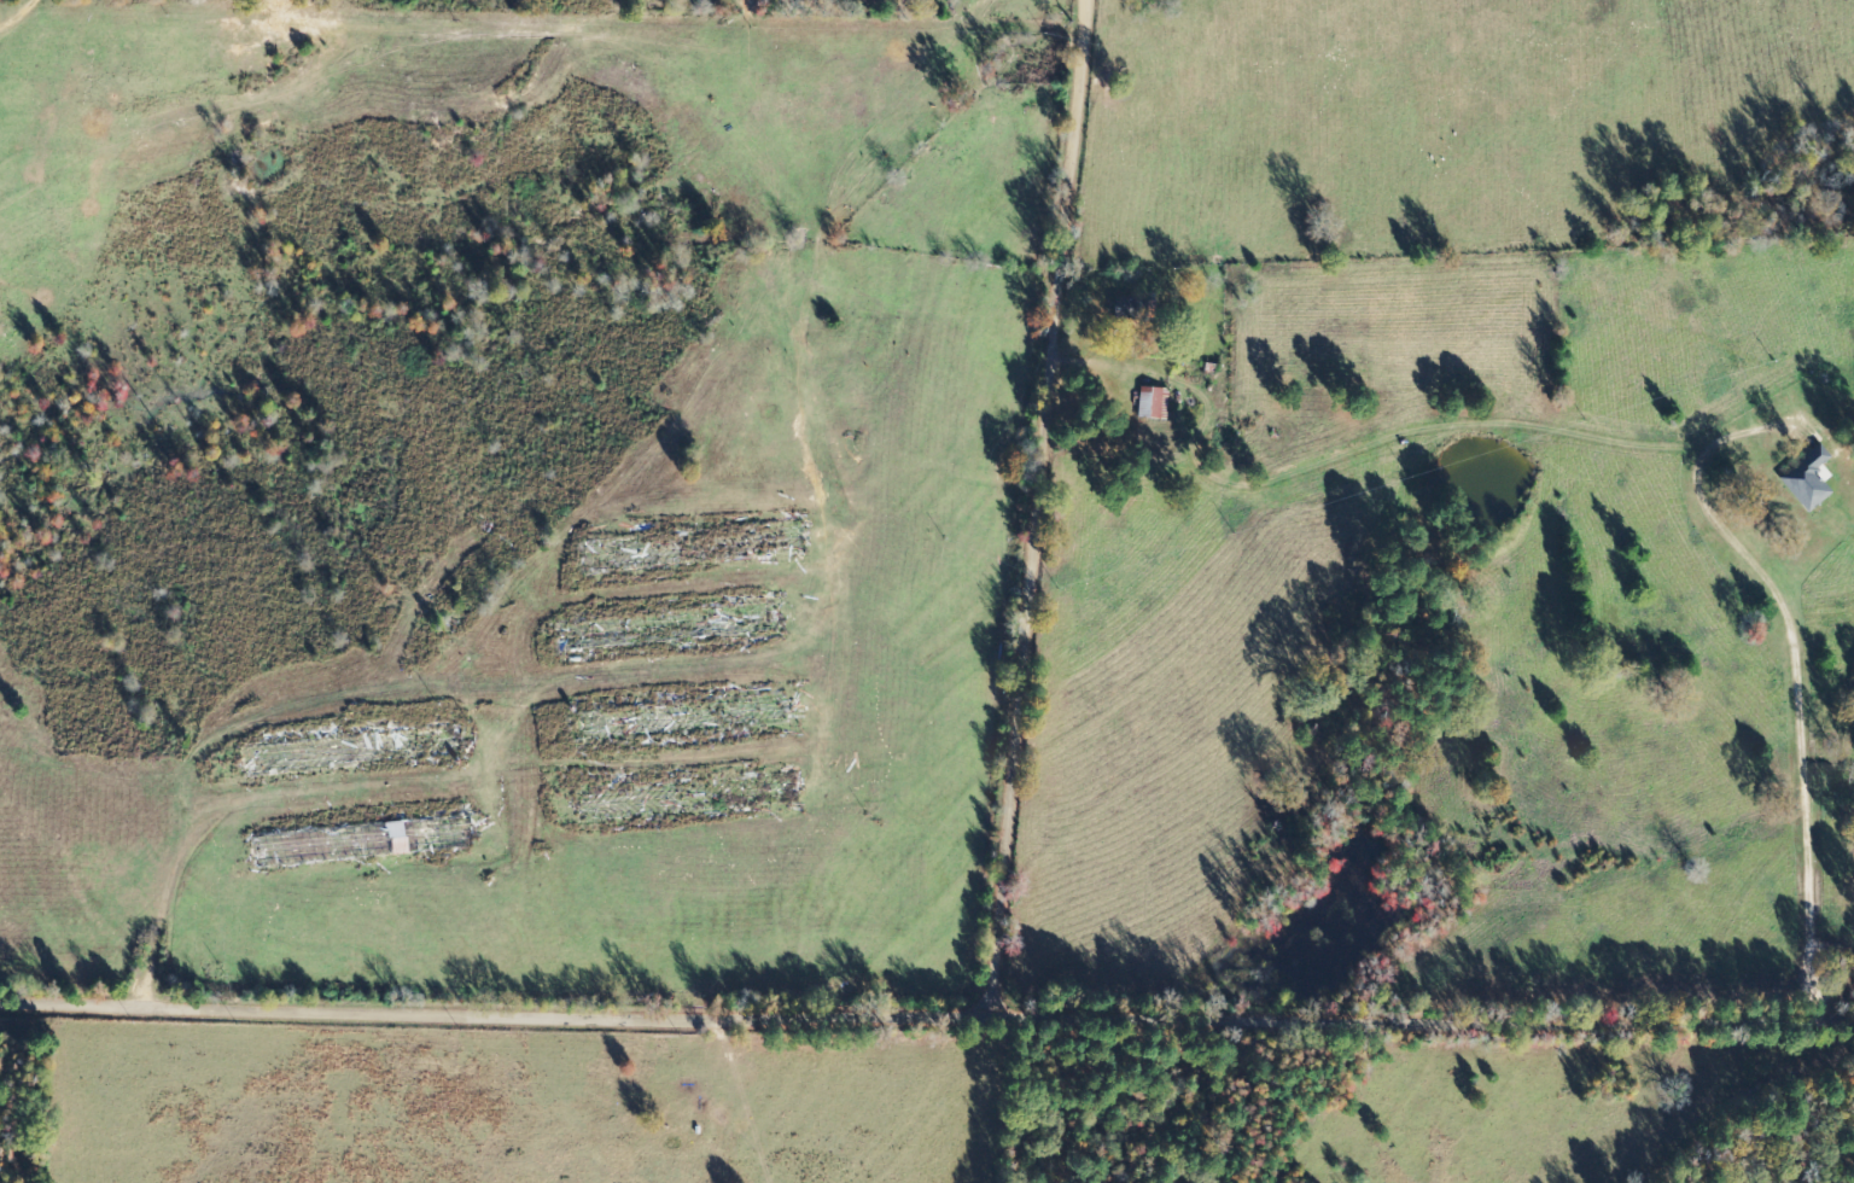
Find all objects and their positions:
road: (1061, 524)
road: (926, 1047)

